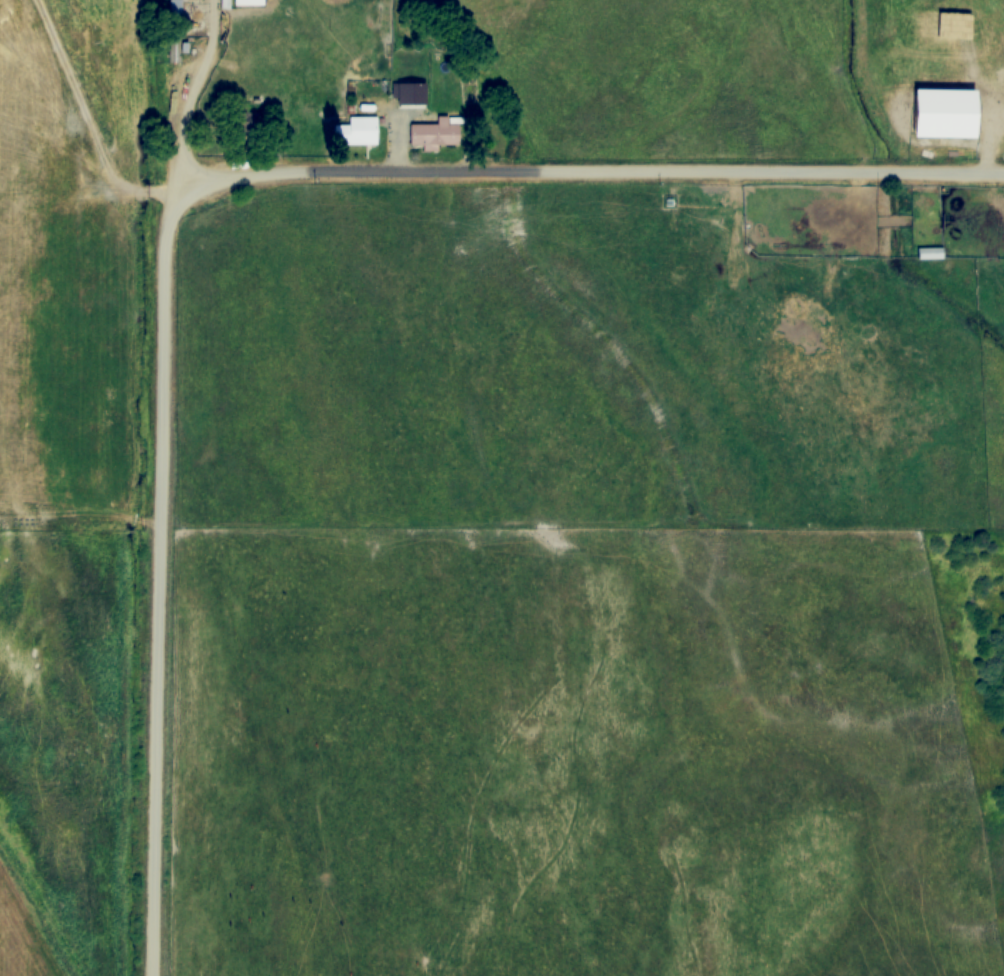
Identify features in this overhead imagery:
building: (249, 3)
building: (175, 7)
building: (412, 100)
building: (246, 122)
building: (942, 129)
building: (356, 132)
building: (435, 135)
road: (251, 234)
building: (929, 253)

